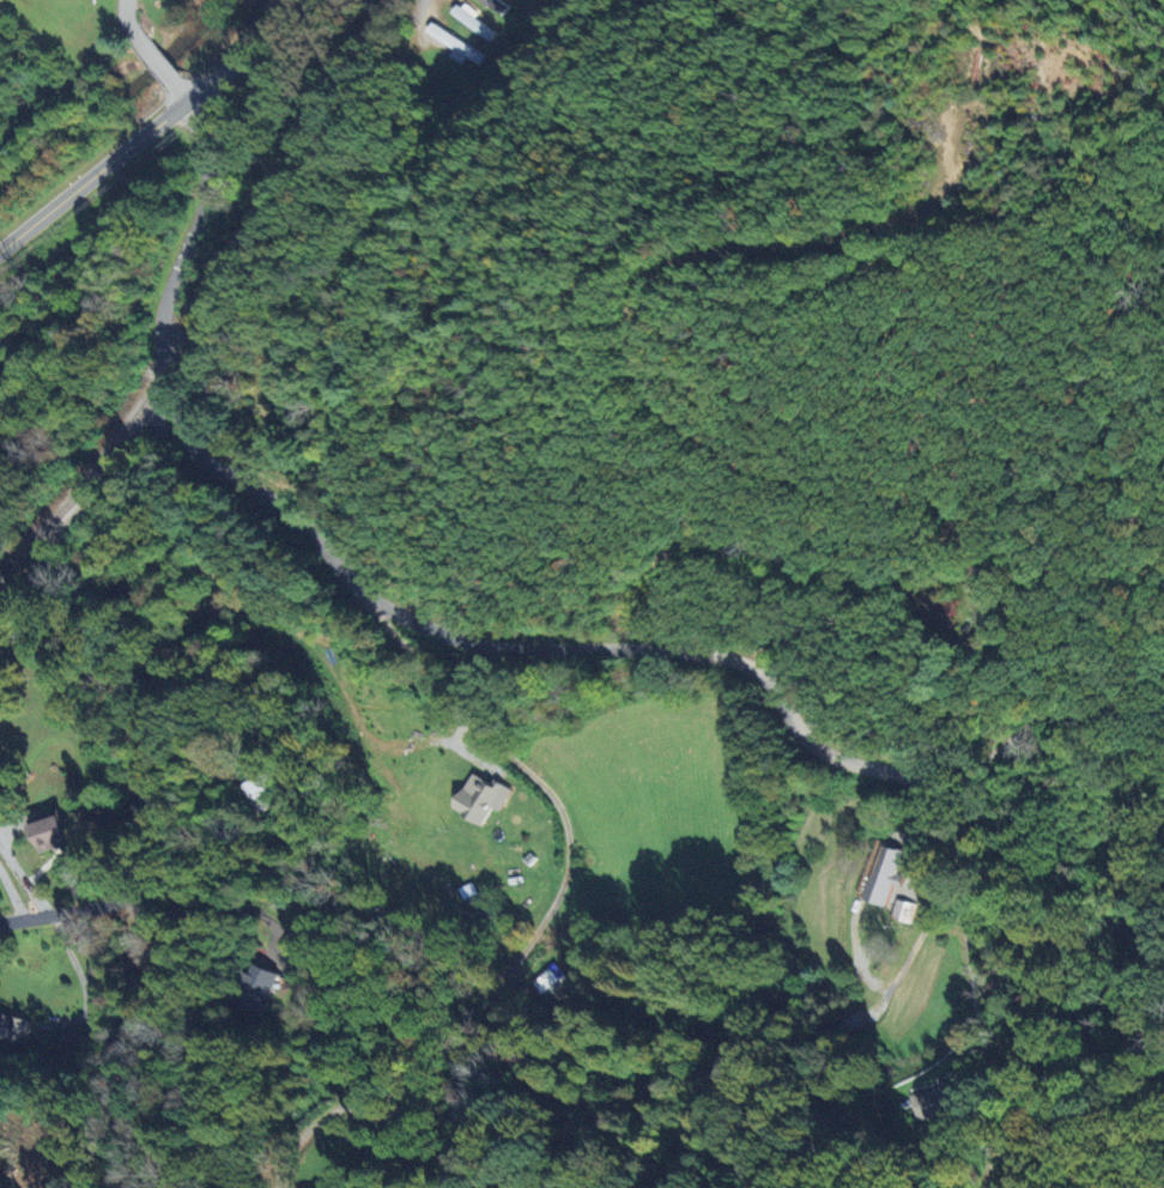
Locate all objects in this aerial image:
building: (491, 5)
road: (430, 7)
building: (469, 20)
road: (129, 22)
building: (453, 46)
road: (154, 62)
road: (177, 92)
road: (151, 128)
railway: (212, 299)
park: (266, 412)
building: (981, 574)
road: (498, 648)
road: (169, 698)
building: (478, 799)
building: (46, 832)
building: (883, 877)
road: (559, 887)
building: (902, 911)
road: (193, 939)
road: (79, 975)
building: (551, 982)
road: (974, 984)
building: (259, 988)
building: (12, 1029)
building: (73, 1041)
building: (934, 1102)

